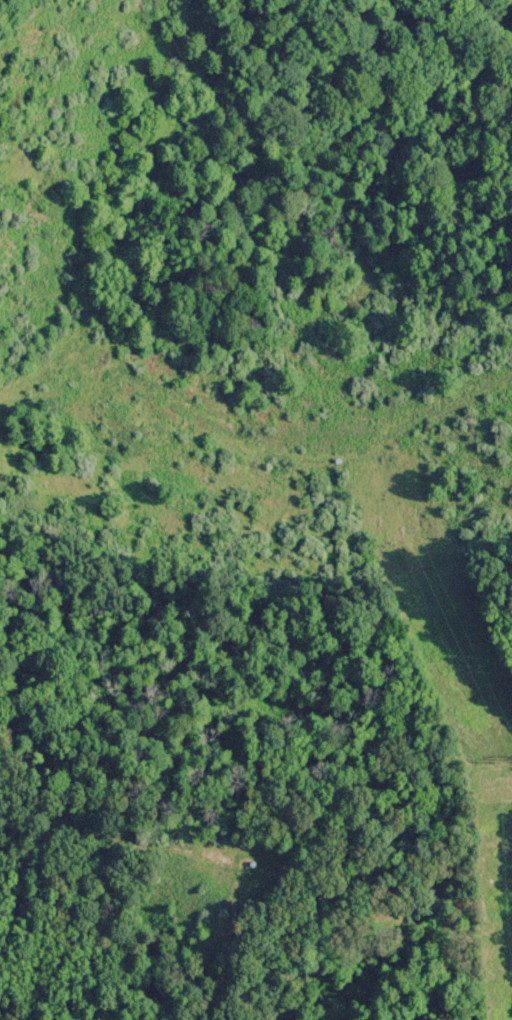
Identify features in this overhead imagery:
power tower: (510, 753)
road: (262, 846)

